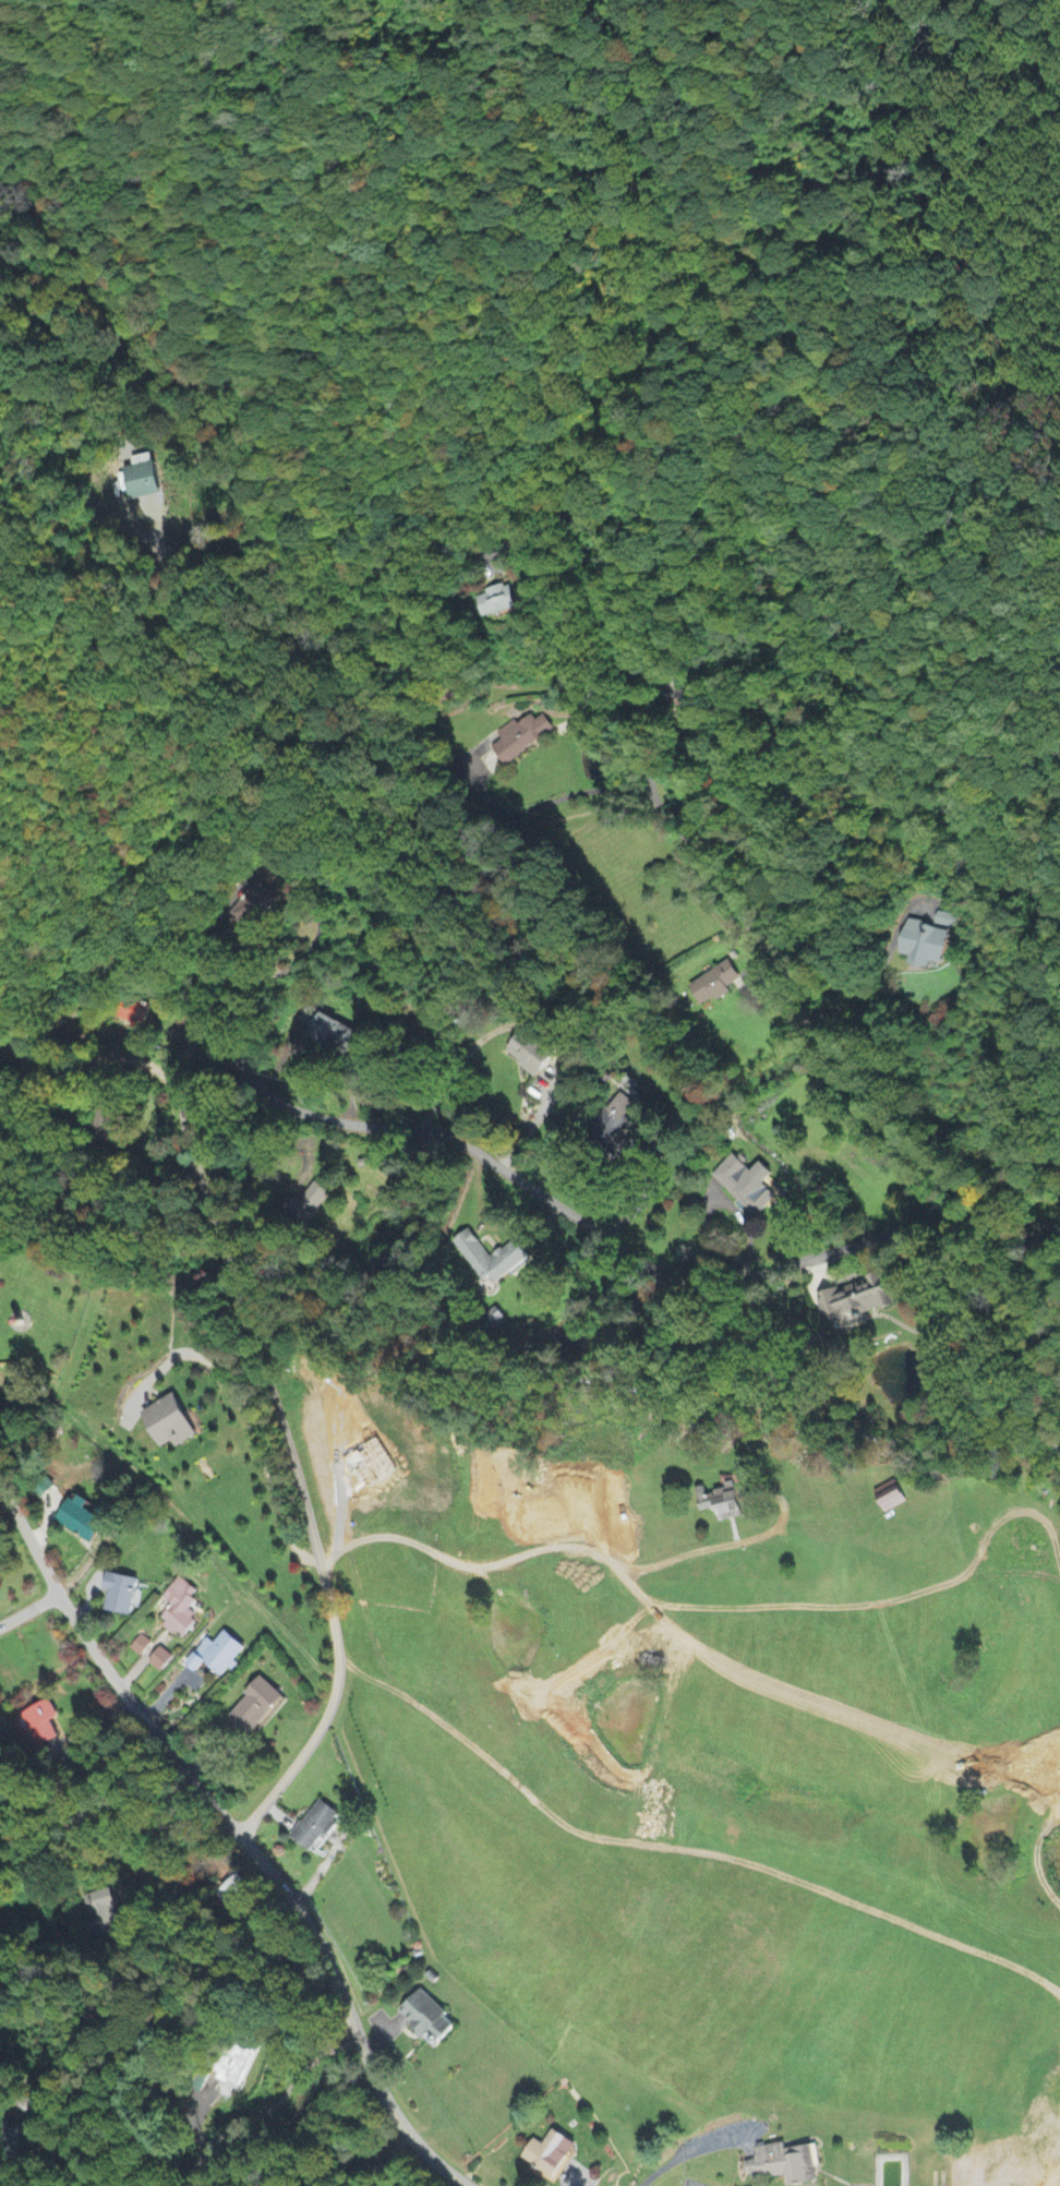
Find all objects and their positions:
road: (9, 428)
road: (604, 562)
road: (157, 582)
building: (501, 602)
building: (521, 738)
road: (176, 837)
road: (293, 867)
building: (925, 945)
road: (847, 970)
building: (714, 985)
building: (531, 1055)
road: (85, 1066)
building: (614, 1117)
road: (472, 1182)
building: (747, 1186)
building: (311, 1203)
road: (634, 1212)
road: (1004, 1227)
building: (491, 1260)
building: (857, 1301)
building: (169, 1422)
building: (890, 1497)
building: (726, 1501)
building: (82, 1520)
road: (486, 1568)
building: (120, 1594)
building: (180, 1608)
road: (28, 1609)
building: (141, 1646)
building: (217, 1655)
building: (160, 1660)
building: (256, 1708)
building: (41, 1725)
building: (317, 1827)
road: (228, 1851)
road: (24, 1866)
building: (236, 1895)
building: (425, 2020)
road: (34, 2051)
road: (180, 2150)
road: (357, 2153)
building: (550, 2155)
building: (784, 2165)

